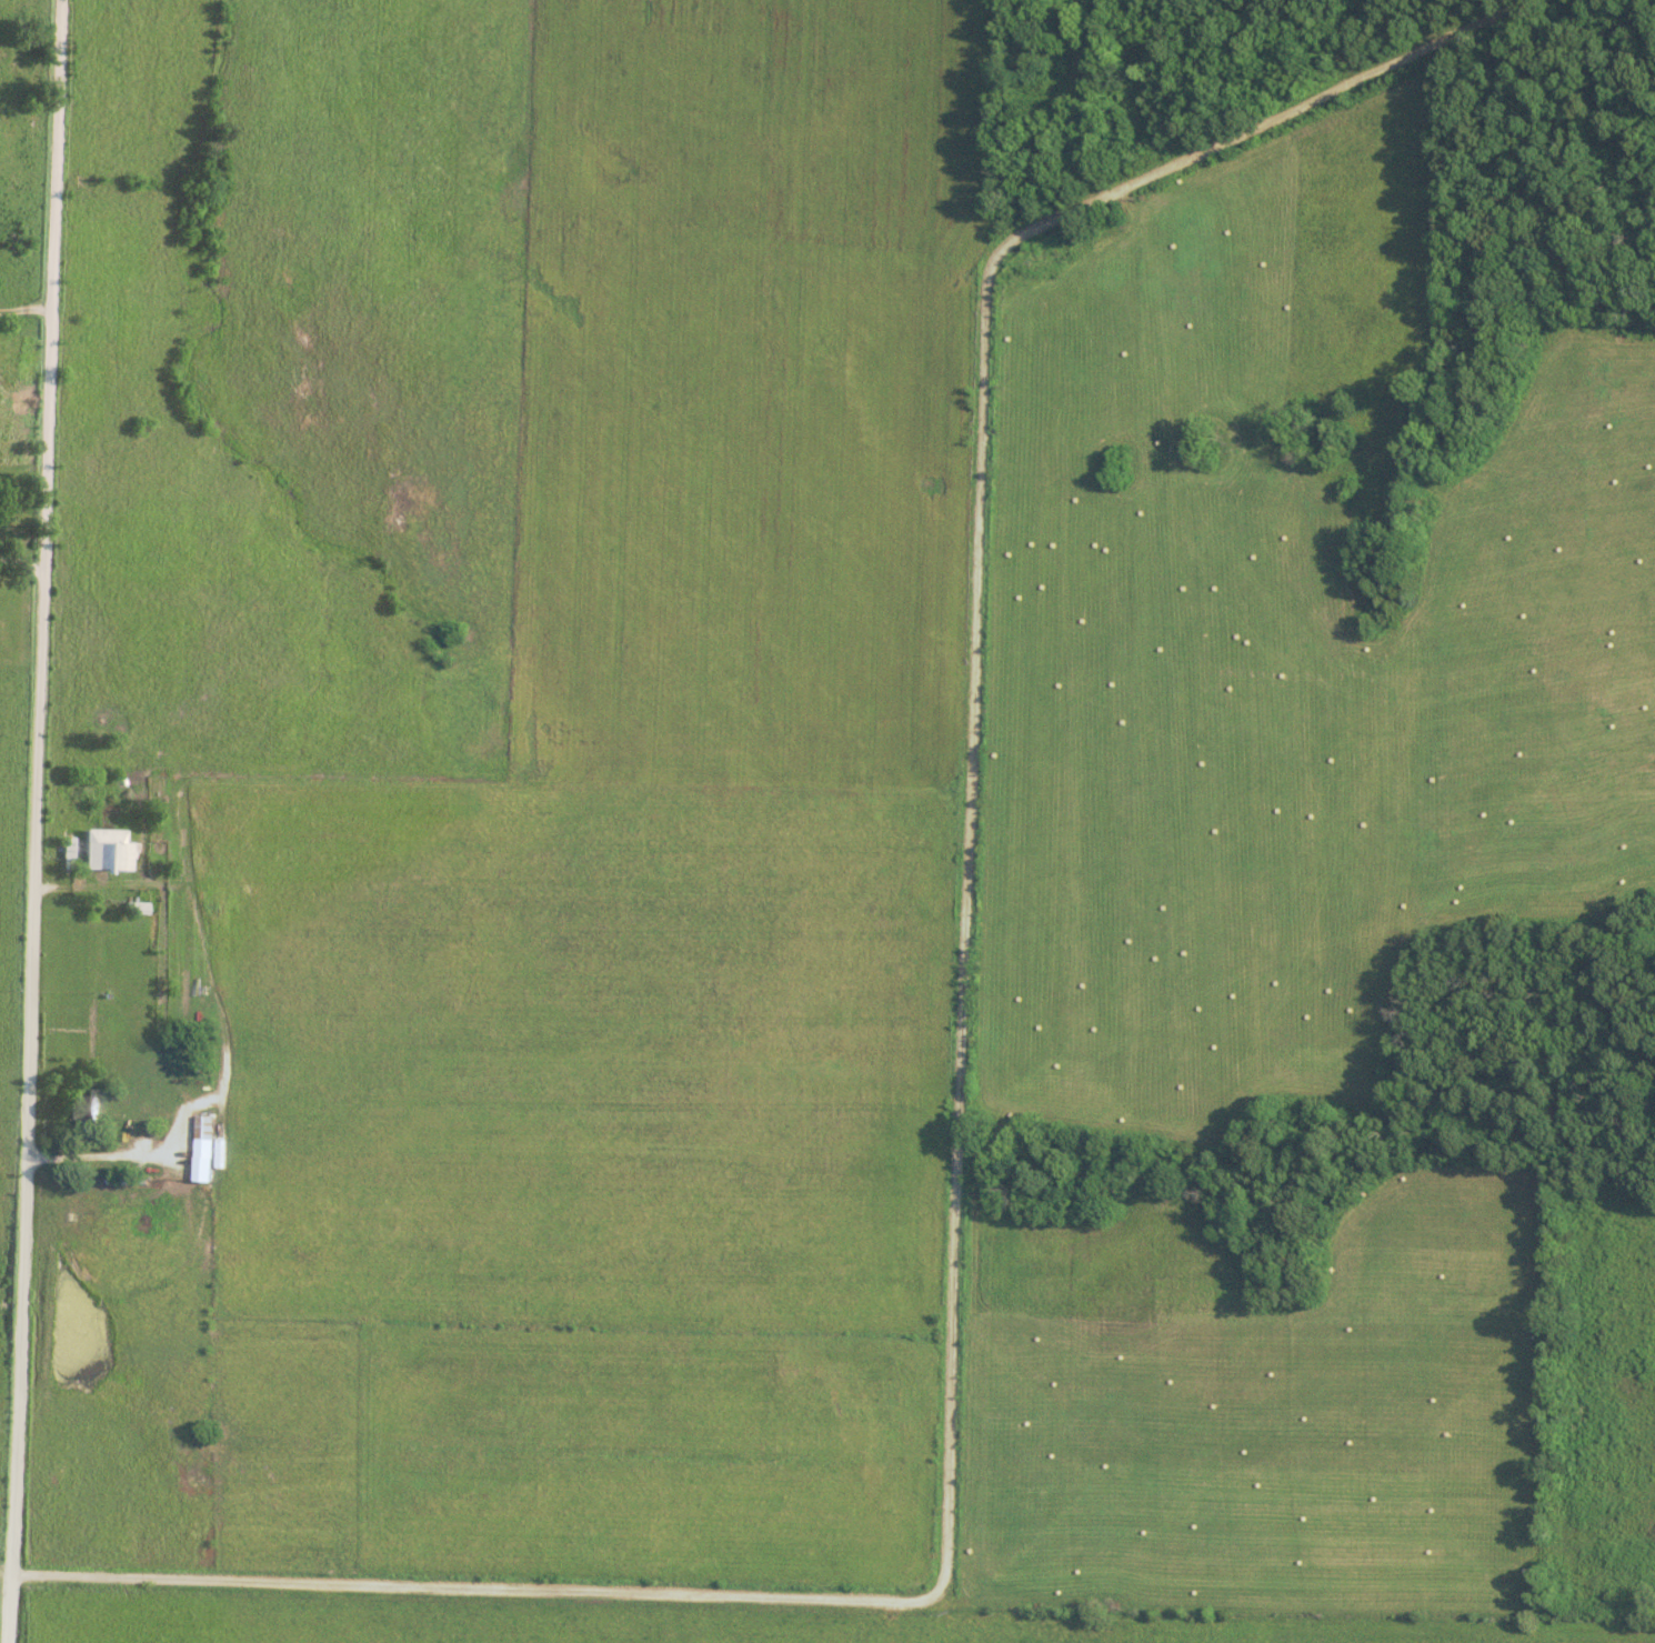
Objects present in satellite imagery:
road: (23, 561)
road: (38, 821)
building: (110, 850)
road: (962, 1096)
building: (93, 1109)
building: (148, 1142)
building: (207, 1146)

